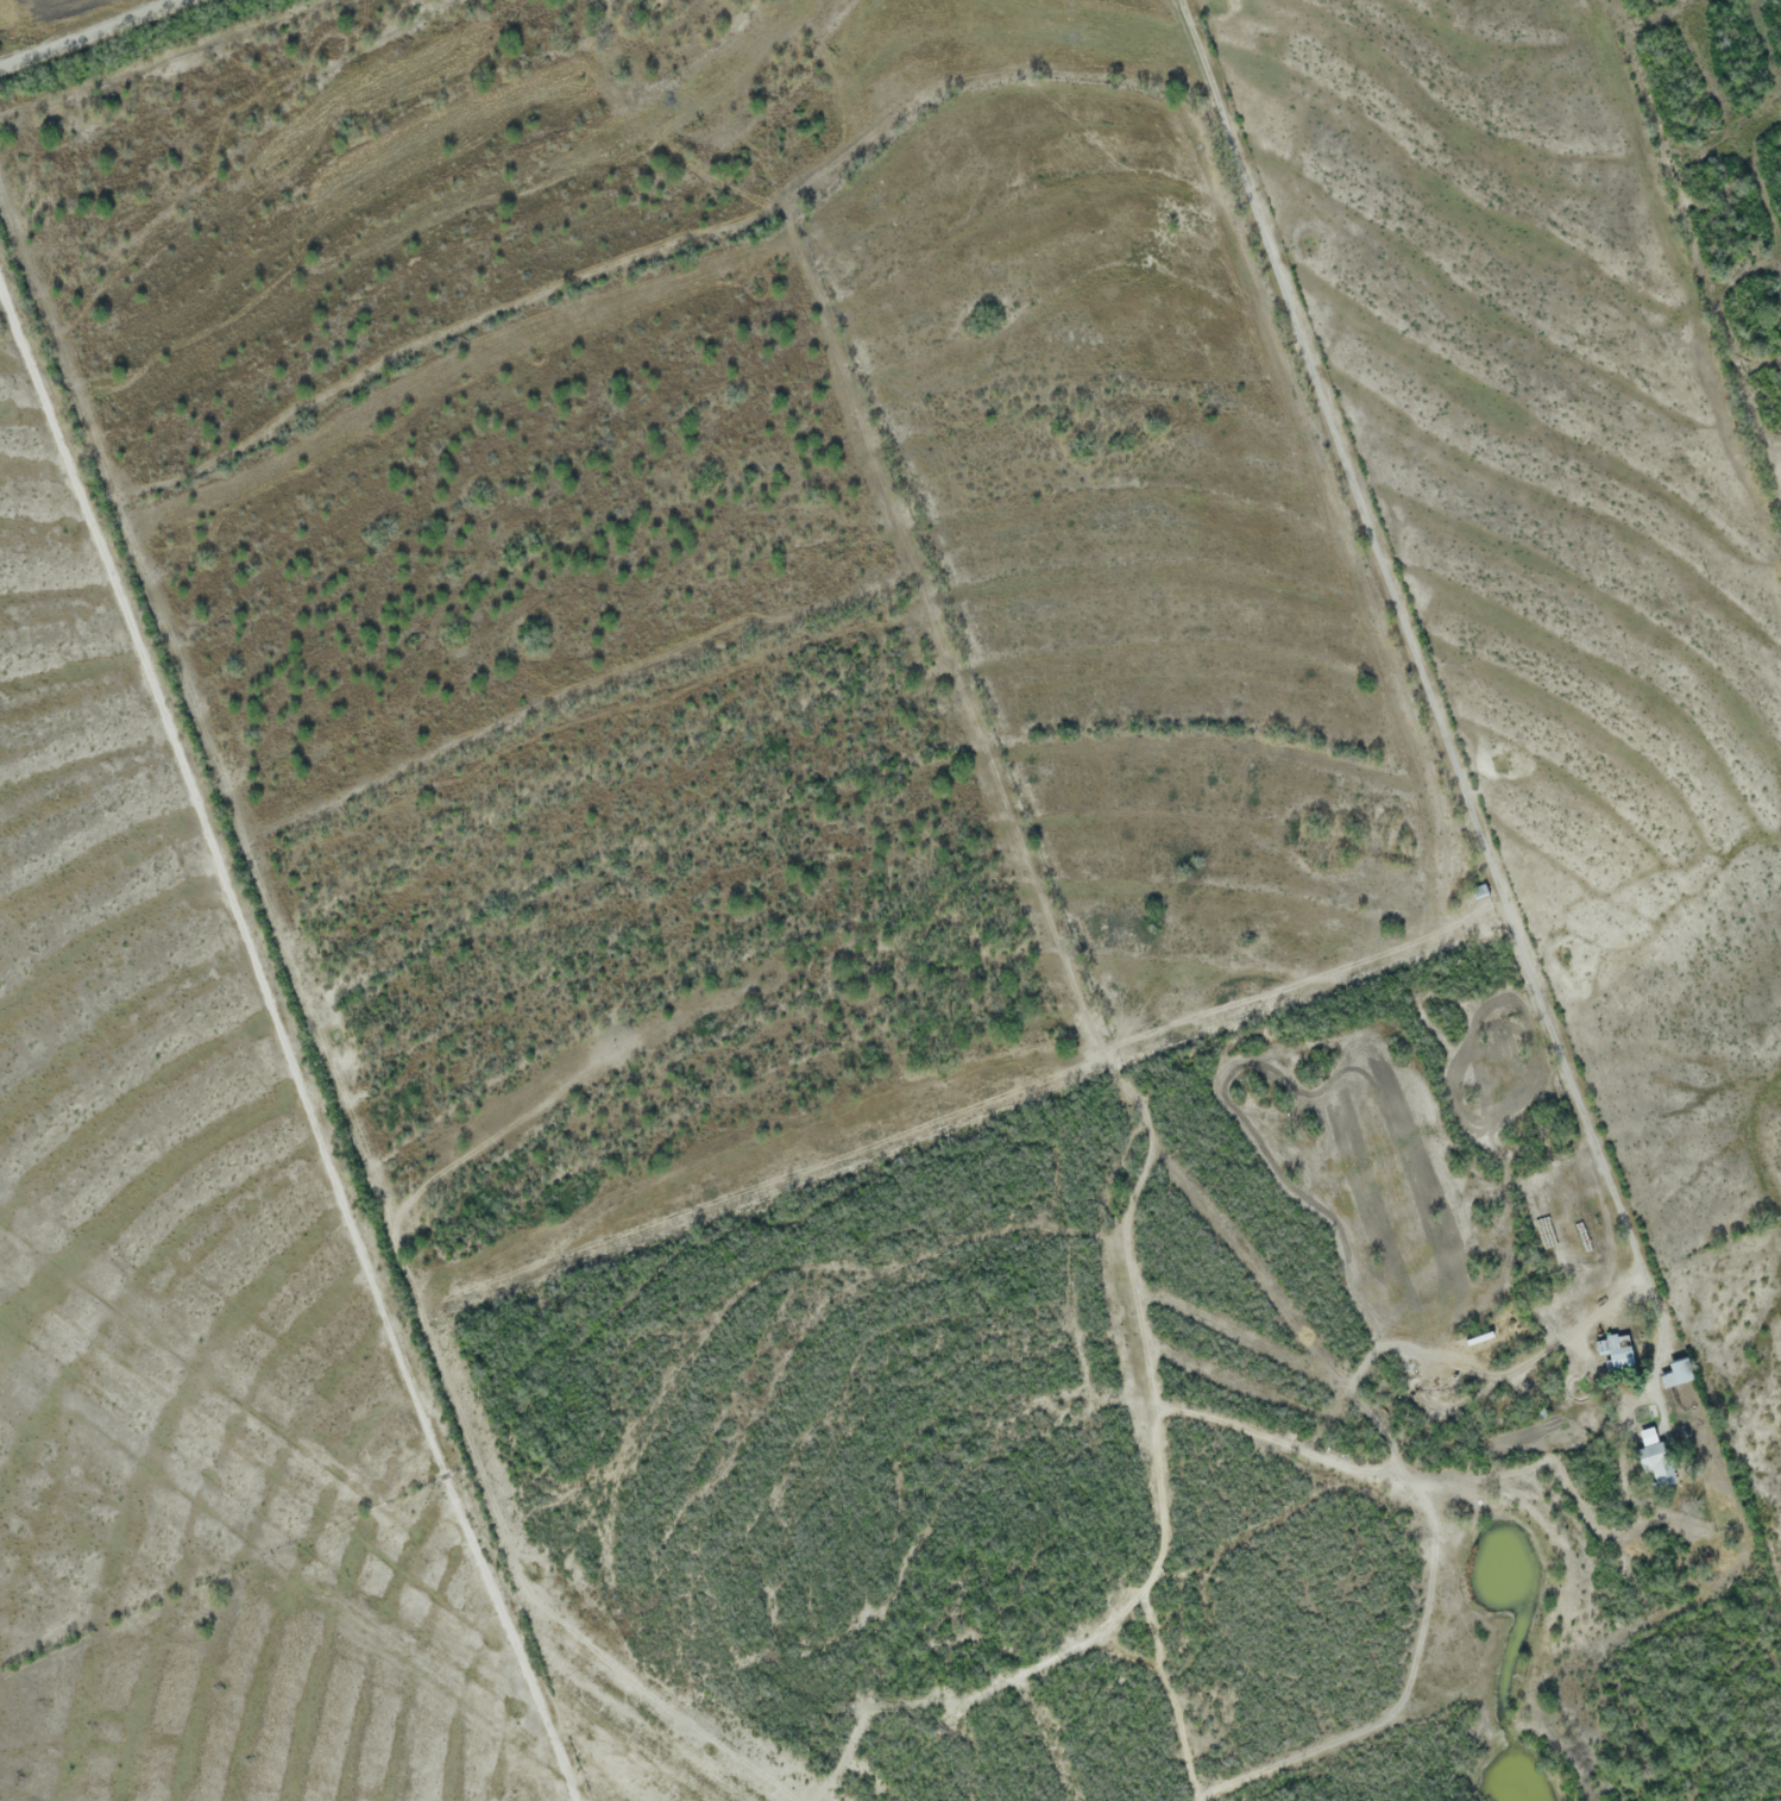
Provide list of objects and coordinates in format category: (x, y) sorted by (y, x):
road: (93, 33)
building: (1613, 1350)
building: (1673, 1374)
building: (1654, 1464)

